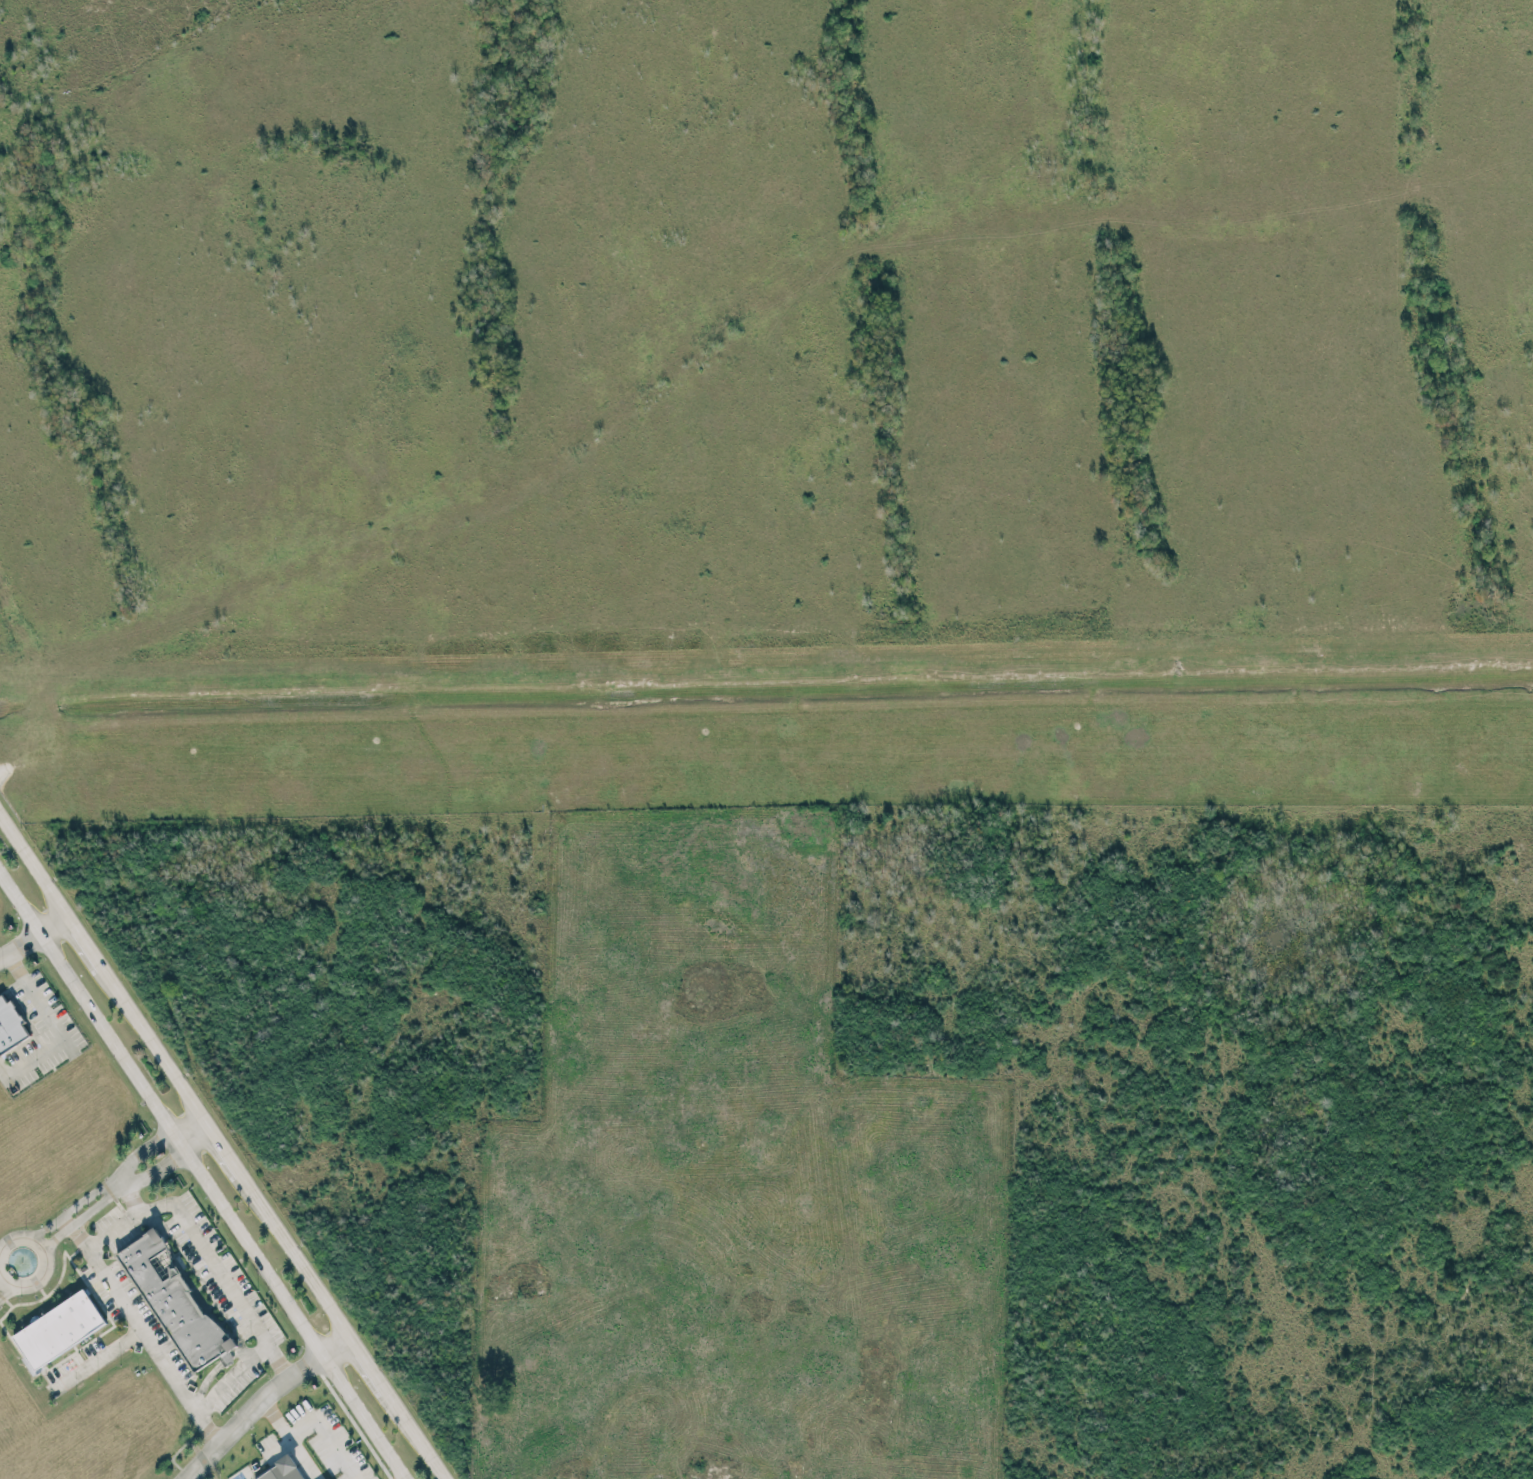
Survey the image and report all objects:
road: (34, 938)
building: (10, 1024)
road: (54, 1027)
road: (193, 1134)
road: (222, 1146)
road: (201, 1176)
road: (123, 1179)
road: (103, 1186)
road: (111, 1195)
road: (131, 1198)
road: (202, 1251)
road: (46, 1262)
road: (7, 1292)
building: (177, 1304)
building: (59, 1329)
road: (143, 1335)
road: (97, 1358)
road: (229, 1378)
road: (260, 1401)
road: (317, 1422)
road: (289, 1439)
building: (282, 1470)
building: (329, 1478)

